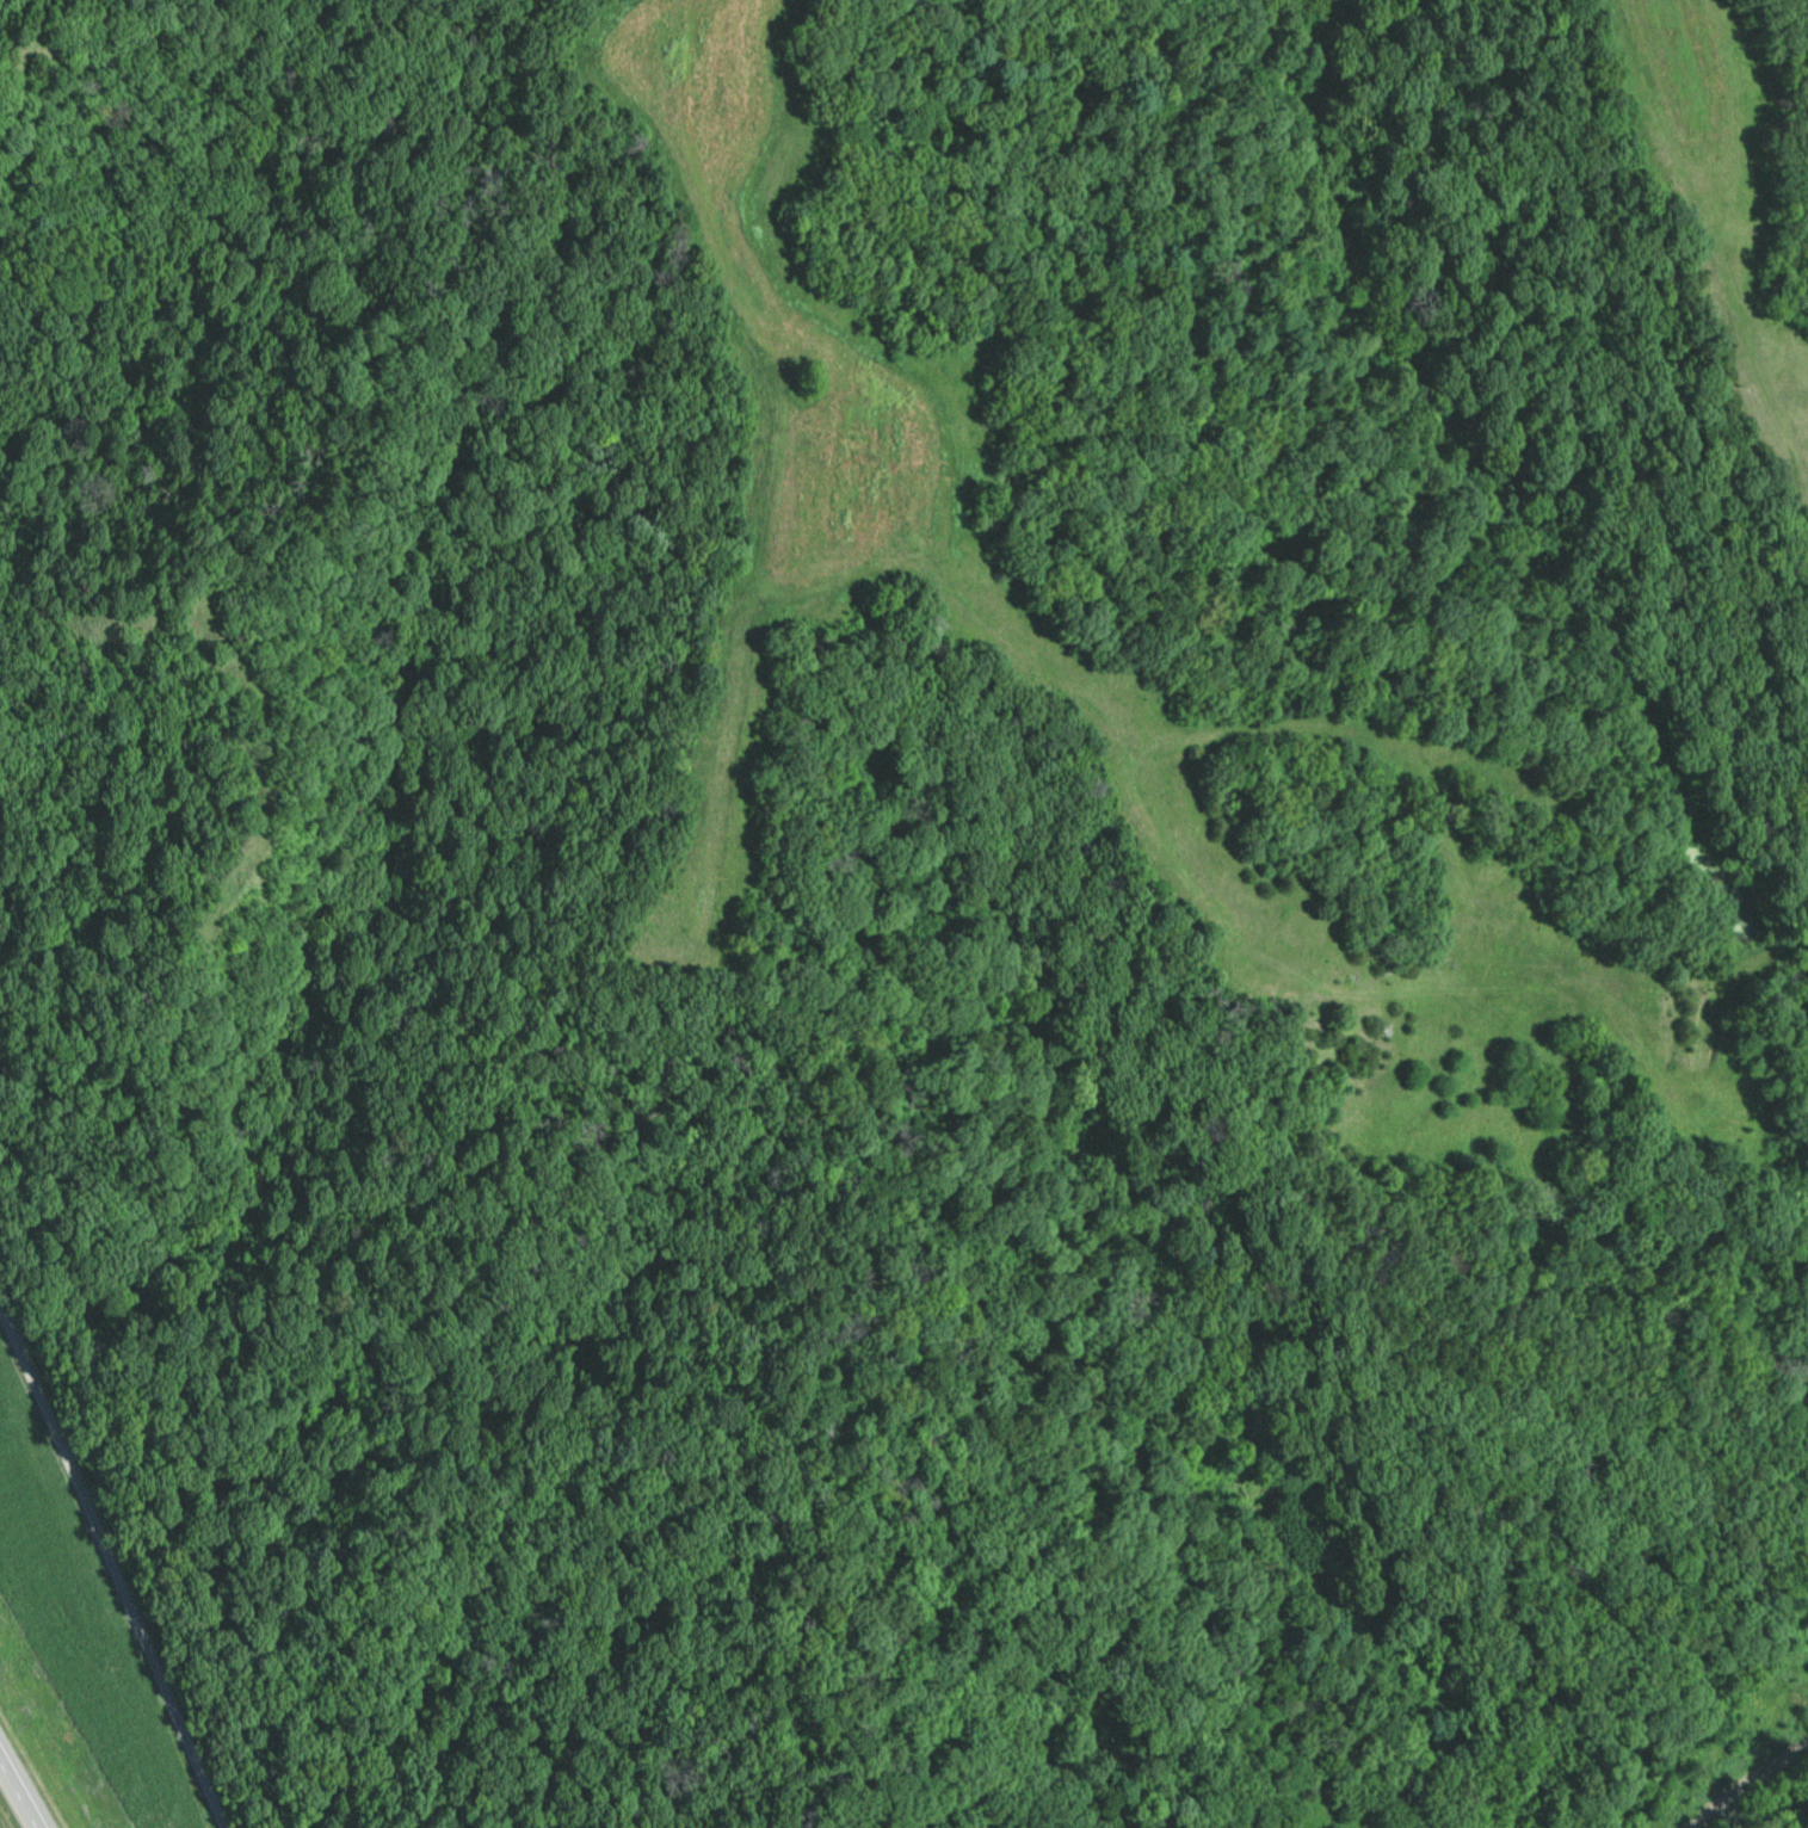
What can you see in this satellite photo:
road: (118, 1561)
building: (1777, 1688)
road: (1745, 1783)
road: (24, 1785)

